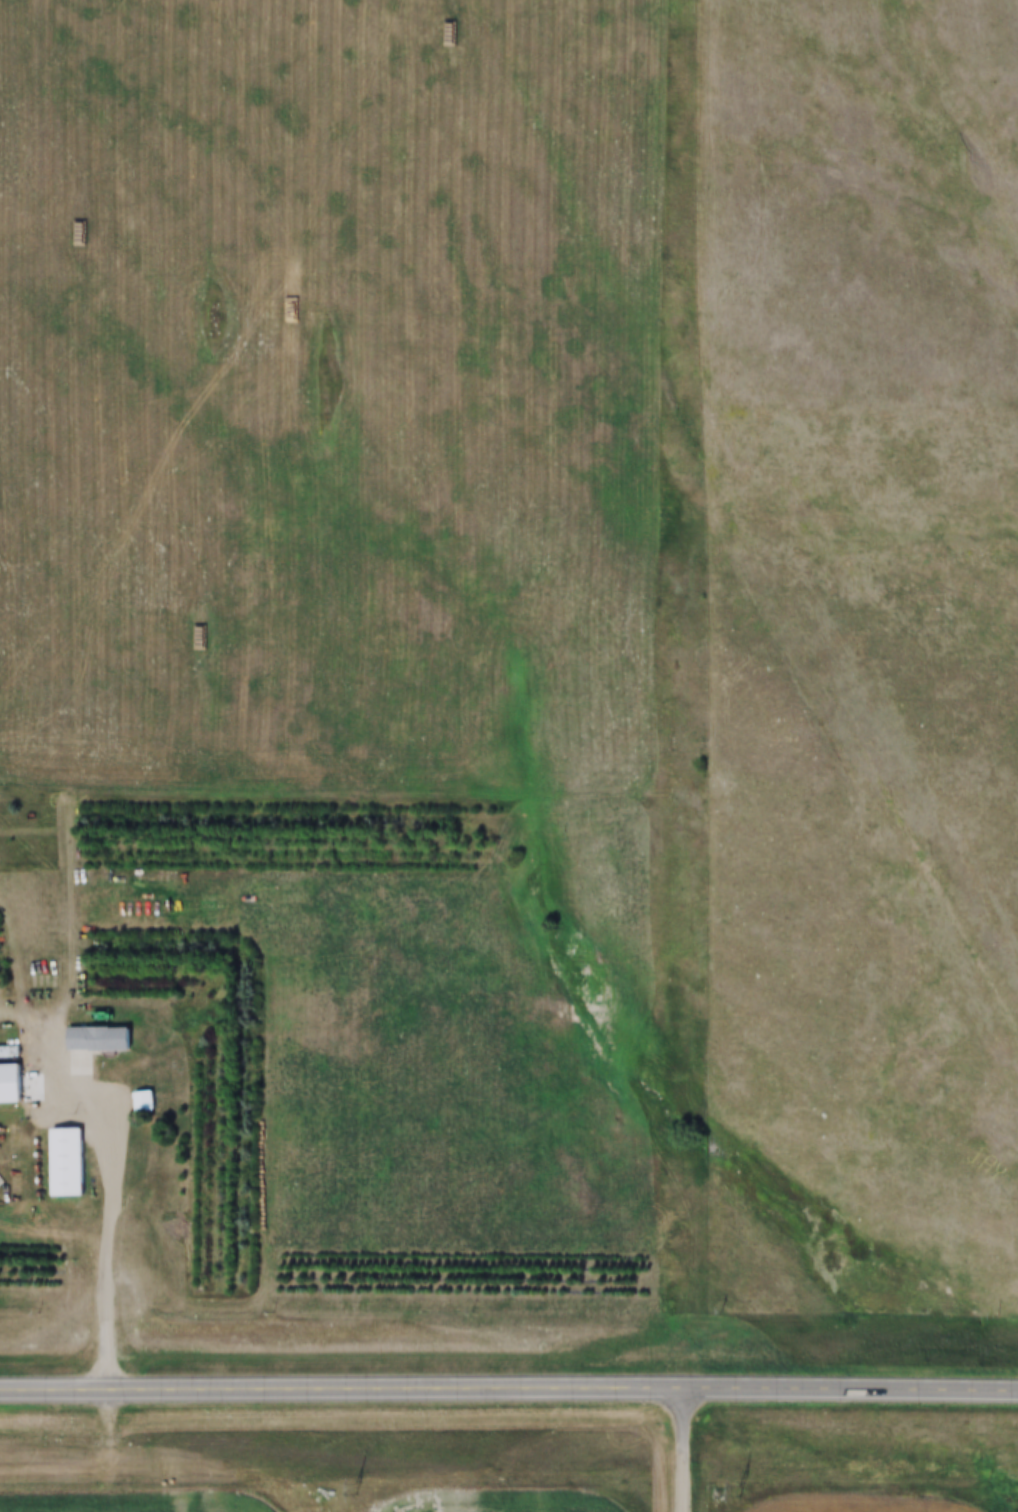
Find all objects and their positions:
building: (44, 975)
building: (103, 1039)
building: (13, 1084)
building: (148, 1102)
building: (71, 1163)
road: (110, 1241)
road: (509, 1386)
road: (683, 1448)

